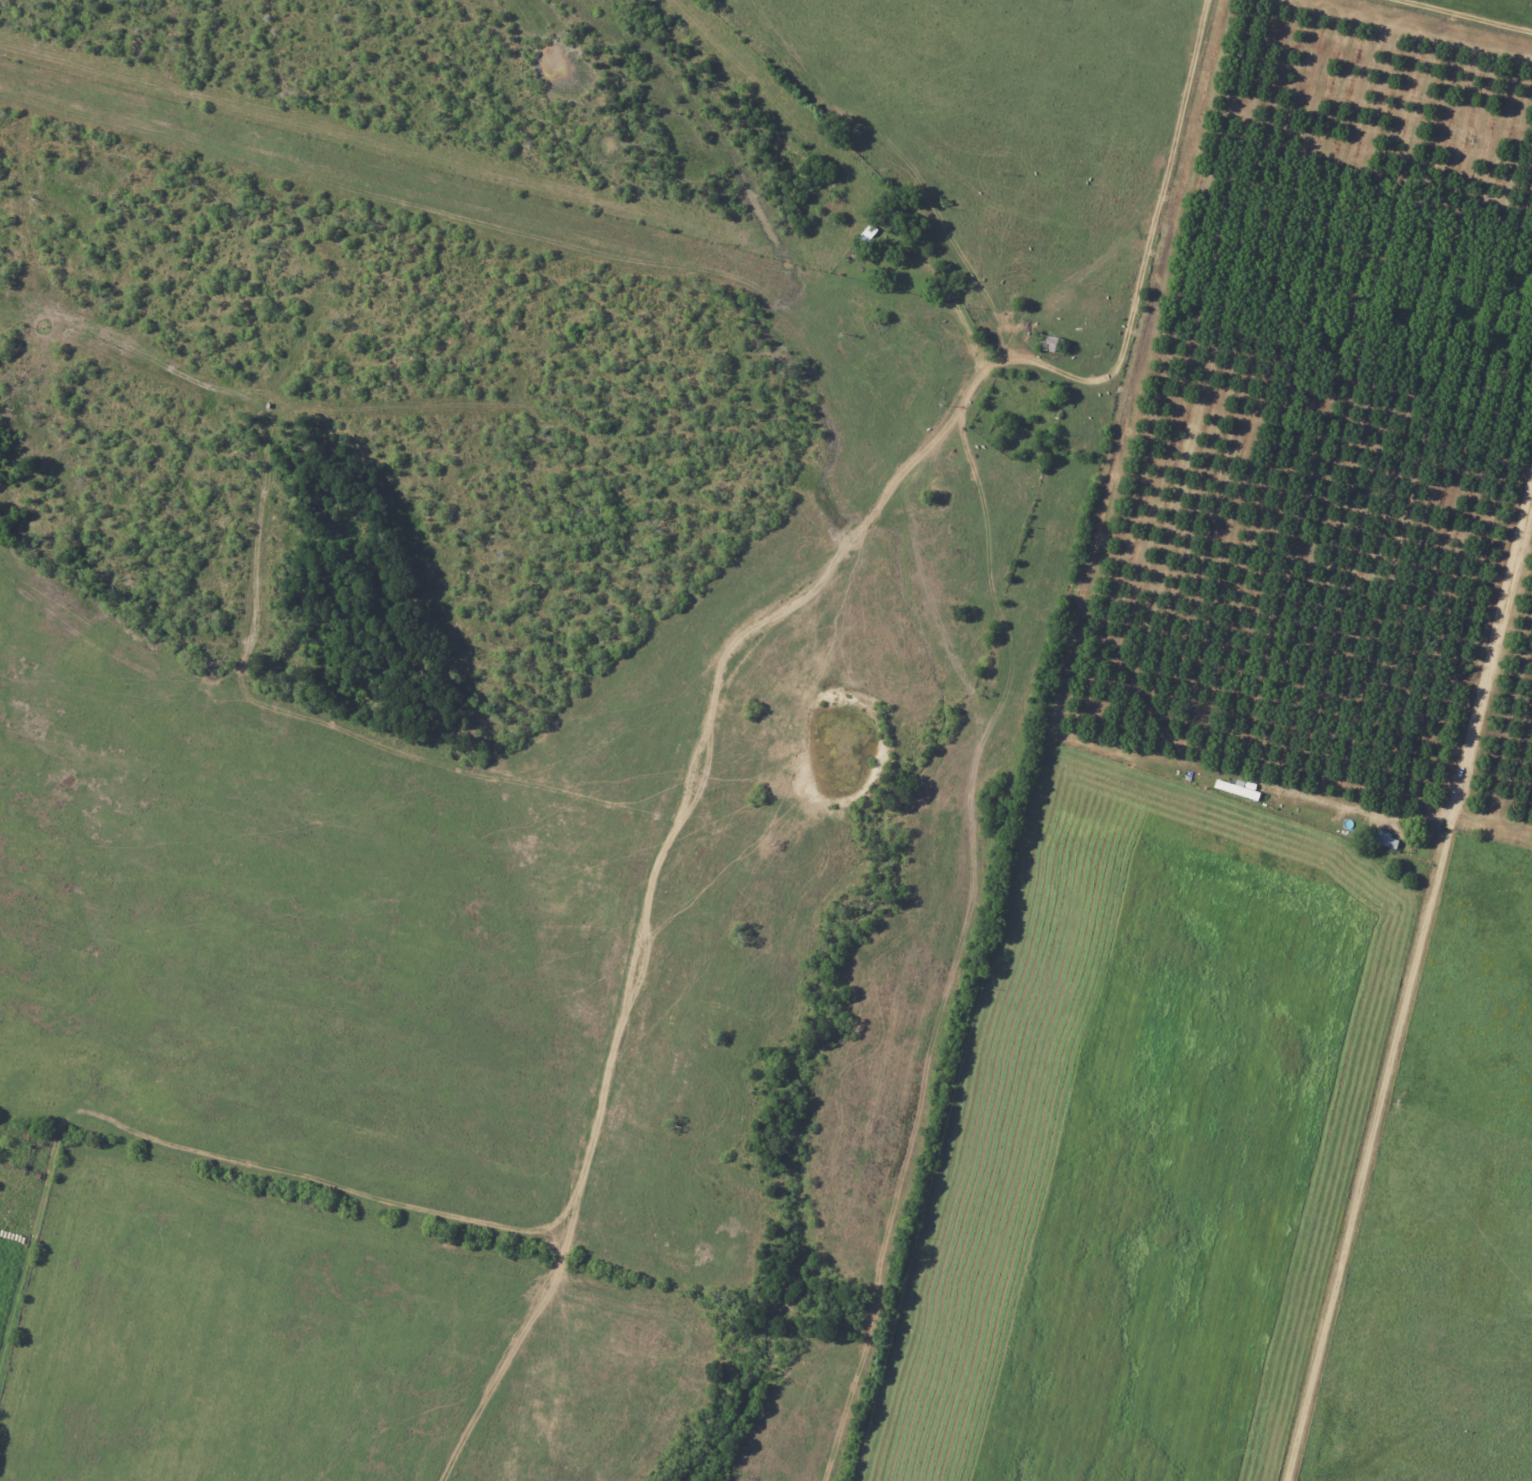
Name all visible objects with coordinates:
road: (1455, 25)
road: (956, 305)
road: (748, 645)
road: (1409, 993)

